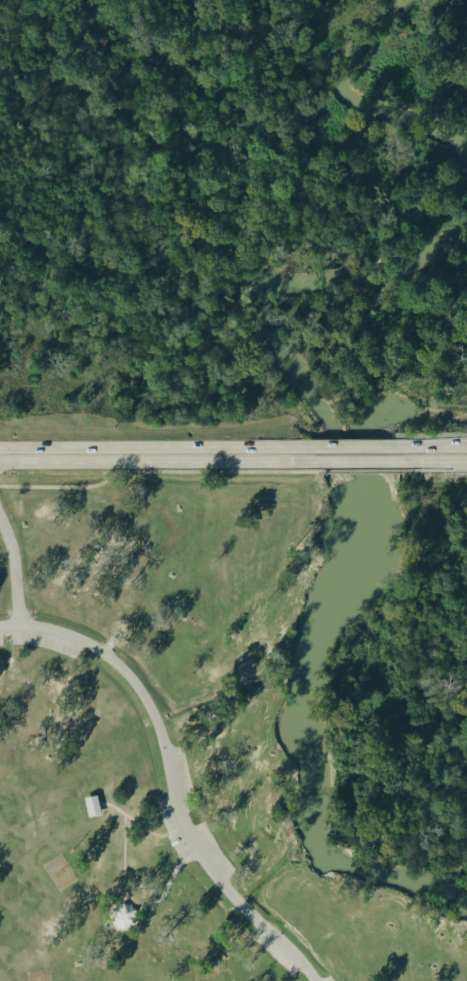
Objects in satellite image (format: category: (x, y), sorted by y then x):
river: (354, 96)
road: (439, 444)
road: (159, 446)
road: (366, 446)
road: (440, 460)
road: (159, 461)
road: (365, 461)
road: (365, 470)
road: (436, 470)
road: (155, 471)
river: (362, 529)
road: (14, 562)
parking lot: (37, 638)
road: (107, 642)
park: (233, 730)
road: (171, 773)
building: (89, 806)
road: (132, 820)
parking lot: (190, 822)
road: (179, 826)
parking lot: (178, 846)
parking lot: (183, 854)
road: (194, 856)
road: (122, 857)
road: (164, 890)
building: (124, 915)
parking lot: (276, 952)
parking lot: (328, 978)

